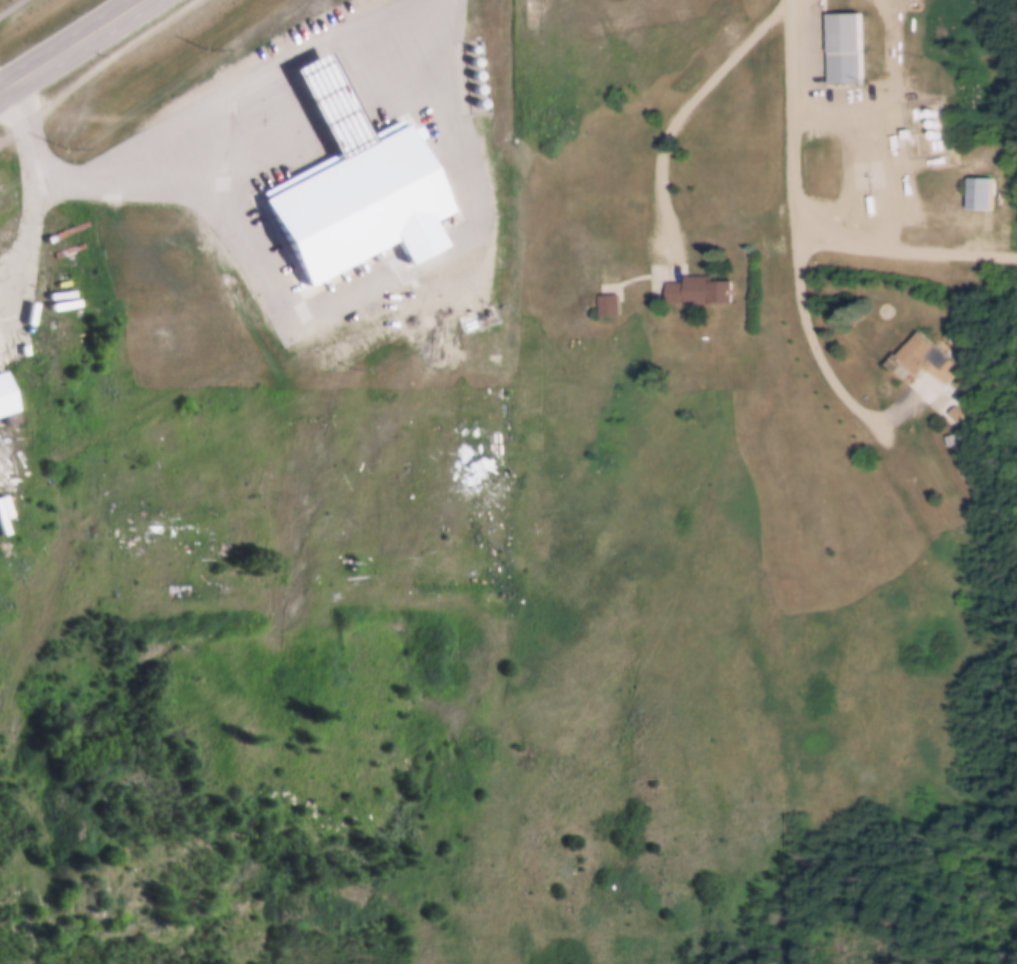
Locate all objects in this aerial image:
road: (13, 8)
road: (68, 45)
storage tank: (475, 46)
building: (843, 48)
storage tank: (476, 58)
storage tank: (477, 72)
road: (2, 86)
storage tank: (479, 86)
storage tank: (480, 99)
building: (330, 102)
gas station: (330, 102)
road: (688, 109)
building: (929, 109)
storage tank: (929, 109)
road: (241, 117)
building: (931, 120)
storage tank: (931, 120)
road: (797, 122)
building: (932, 131)
storage tank: (932, 131)
road: (897, 145)
road: (31, 177)
building: (976, 196)
building: (356, 201)
building: (639, 205)
building: (576, 238)
road: (909, 251)
building: (701, 289)
building: (609, 302)
building: (153, 340)
building: (926, 354)
road: (833, 370)
building: (4, 395)
road: (4, 472)

